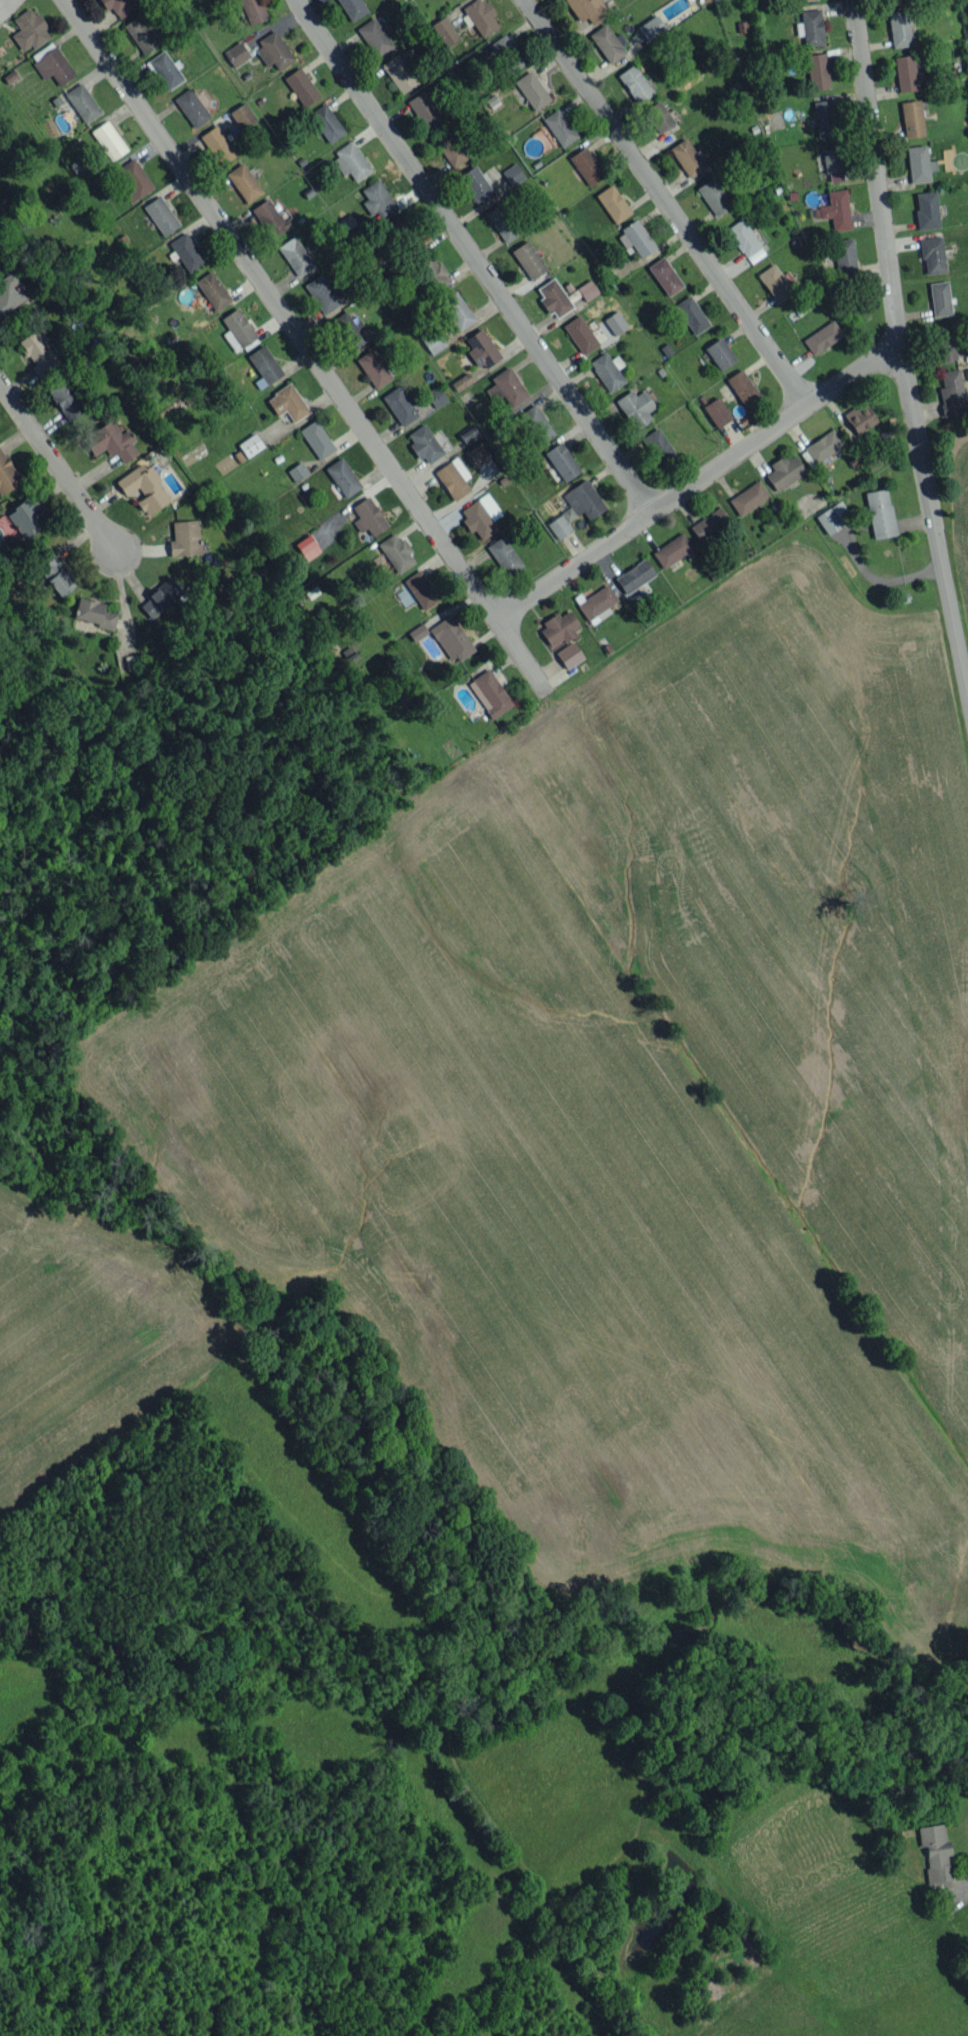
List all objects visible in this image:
building: (800, 0)
building: (118, 6)
building: (352, 8)
building: (587, 9)
building: (252, 10)
building: (481, 16)
building: (651, 27)
building: (812, 27)
building: (899, 28)
building: (29, 29)
building: (444, 31)
building: (140, 33)
building: (374, 37)
building: (608, 43)
building: (272, 49)
building: (236, 54)
building: (506, 54)
building: (51, 63)
building: (165, 70)
building: (817, 71)
building: (905, 72)
building: (399, 73)
building: (635, 83)
building: (301, 86)
building: (531, 90)
building: (82, 102)
building: (191, 107)
building: (424, 110)
building: (242, 116)
building: (658, 116)
building: (824, 117)
building: (911, 118)
building: (326, 122)
building: (559, 127)
building: (108, 139)
building: (217, 145)
building: (449, 146)
building: (686, 157)
building: (832, 159)
building: (350, 161)
building: (919, 163)
building: (586, 165)
building: (513, 174)
building: (835, 176)
building: (133, 178)
building: (243, 182)
building: (476, 184)
building: (713, 196)
building: (377, 200)
building: (612, 203)
road: (666, 203)
building: (835, 209)
building: (926, 209)
building: (160, 215)
building: (269, 217)
building: (502, 222)
building: (399, 226)
building: (635, 238)
building: (745, 241)
building: (186, 252)
building: (932, 254)
building: (295, 256)
road: (474, 256)
building: (844, 256)
building: (528, 259)
building: (433, 270)
building: (664, 276)
building: (774, 282)
building: (587, 289)
building: (212, 290)
building: (9, 292)
building: (323, 293)
building: (553, 298)
building: (939, 298)
building: (457, 310)
building: (691, 314)
building: (615, 322)
building: (237, 329)
building: (348, 329)
building: (580, 334)
building: (822, 337)
road: (902, 342)
building: (945, 343)
road: (305, 344)
building: (480, 348)
building: (37, 352)
building: (719, 353)
building: (264, 364)
building: (373, 368)
building: (607, 371)
building: (966, 373)
building: (460, 381)
building: (506, 387)
building: (743, 388)
building: (951, 393)
building: (436, 396)
building: (65, 400)
building: (287, 402)
building: (400, 405)
building: (635, 407)
building: (716, 411)
building: (859, 417)
building: (535, 423)
building: (467, 432)
building: (316, 439)
building: (110, 441)
building: (250, 444)
building: (424, 444)
building: (823, 445)
building: (658, 446)
building: (477, 453)
building: (562, 461)
road: (61, 470)
building: (297, 471)
building: (784, 471)
building: (7, 474)
building: (342, 476)
building: (453, 477)
road: (697, 482)
building: (144, 487)
building: (748, 497)
building: (576, 507)
building: (879, 513)
building: (24, 516)
building: (368, 516)
building: (481, 516)
building: (833, 516)
building: (709, 524)
building: (184, 538)
building: (307, 547)
building: (672, 550)
building: (397, 552)
building: (504, 555)
building: (54, 573)
building: (633, 576)
building: (420, 589)
building: (159, 597)
building: (597, 604)
building: (94, 612)
building: (559, 627)
building: (417, 631)
building: (451, 639)
building: (569, 655)
building: (489, 693)
building: (402, 695)
building: (935, 1852)

